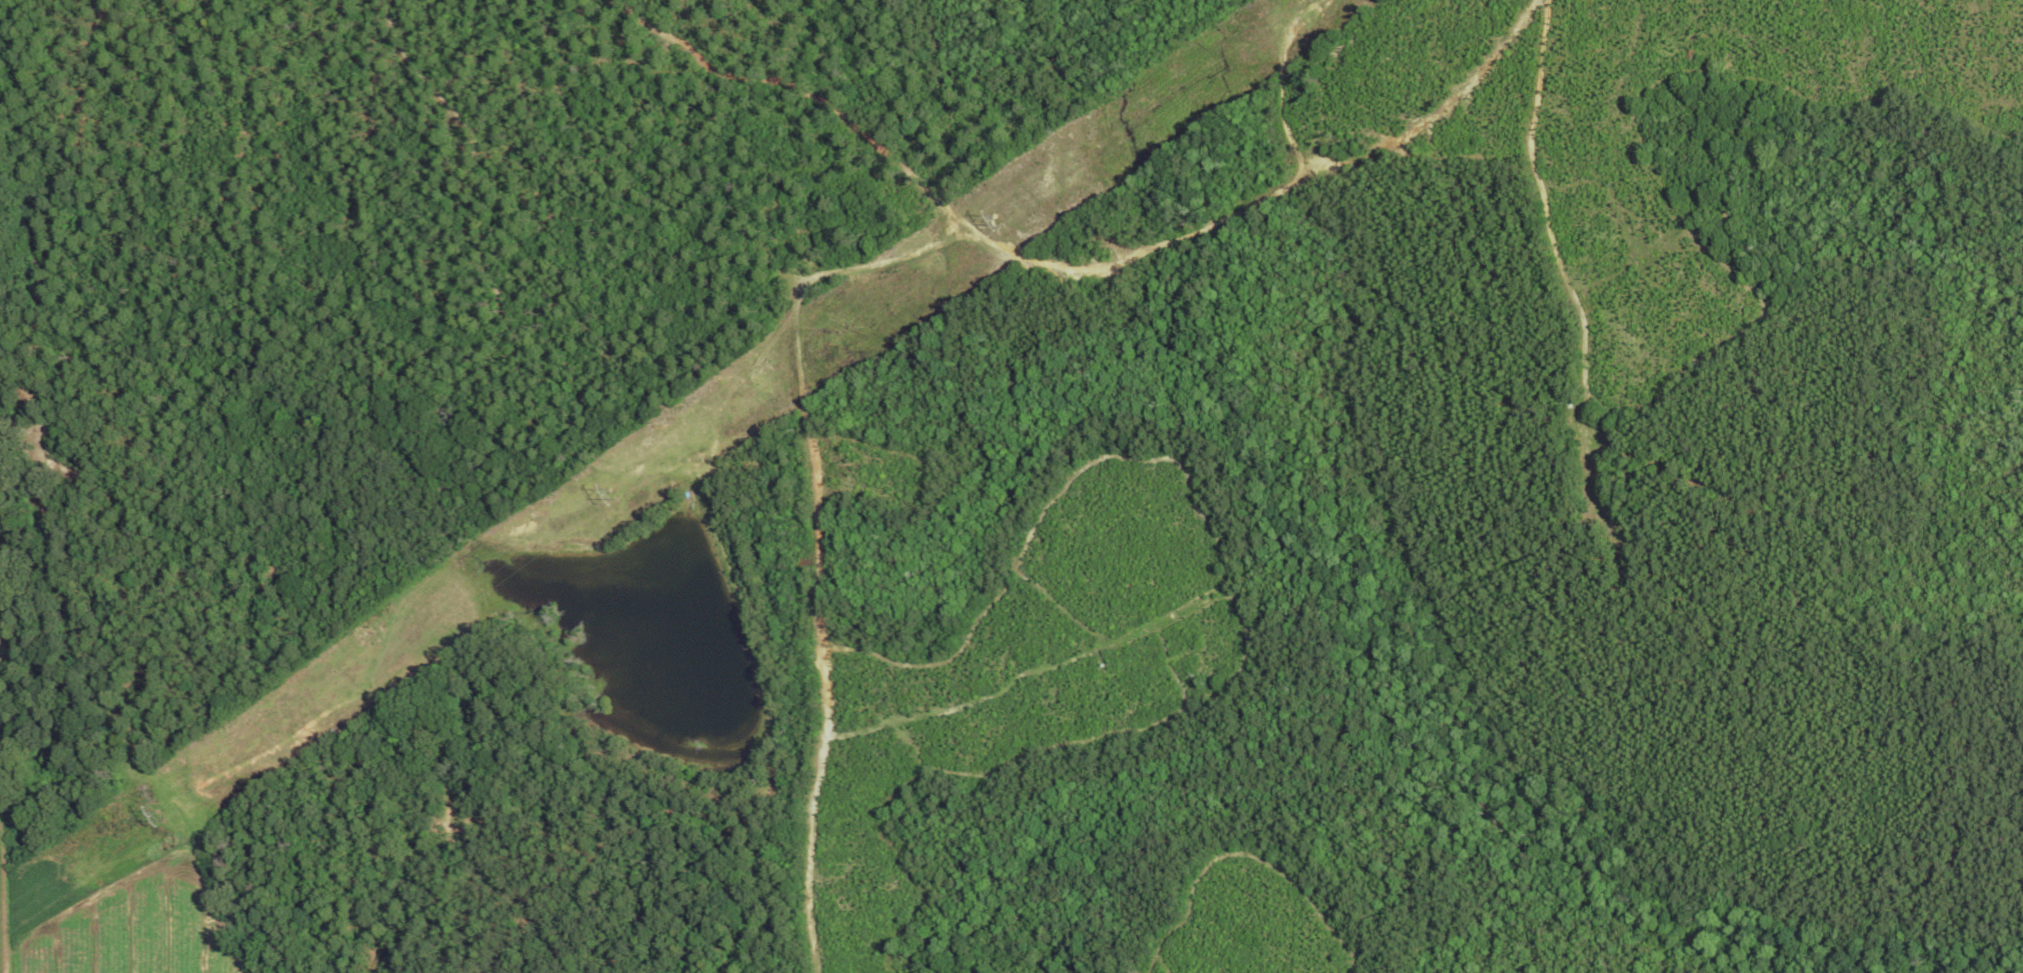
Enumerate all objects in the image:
power tower: (1003, 221)
power tower: (613, 495)
power tower: (155, 817)

